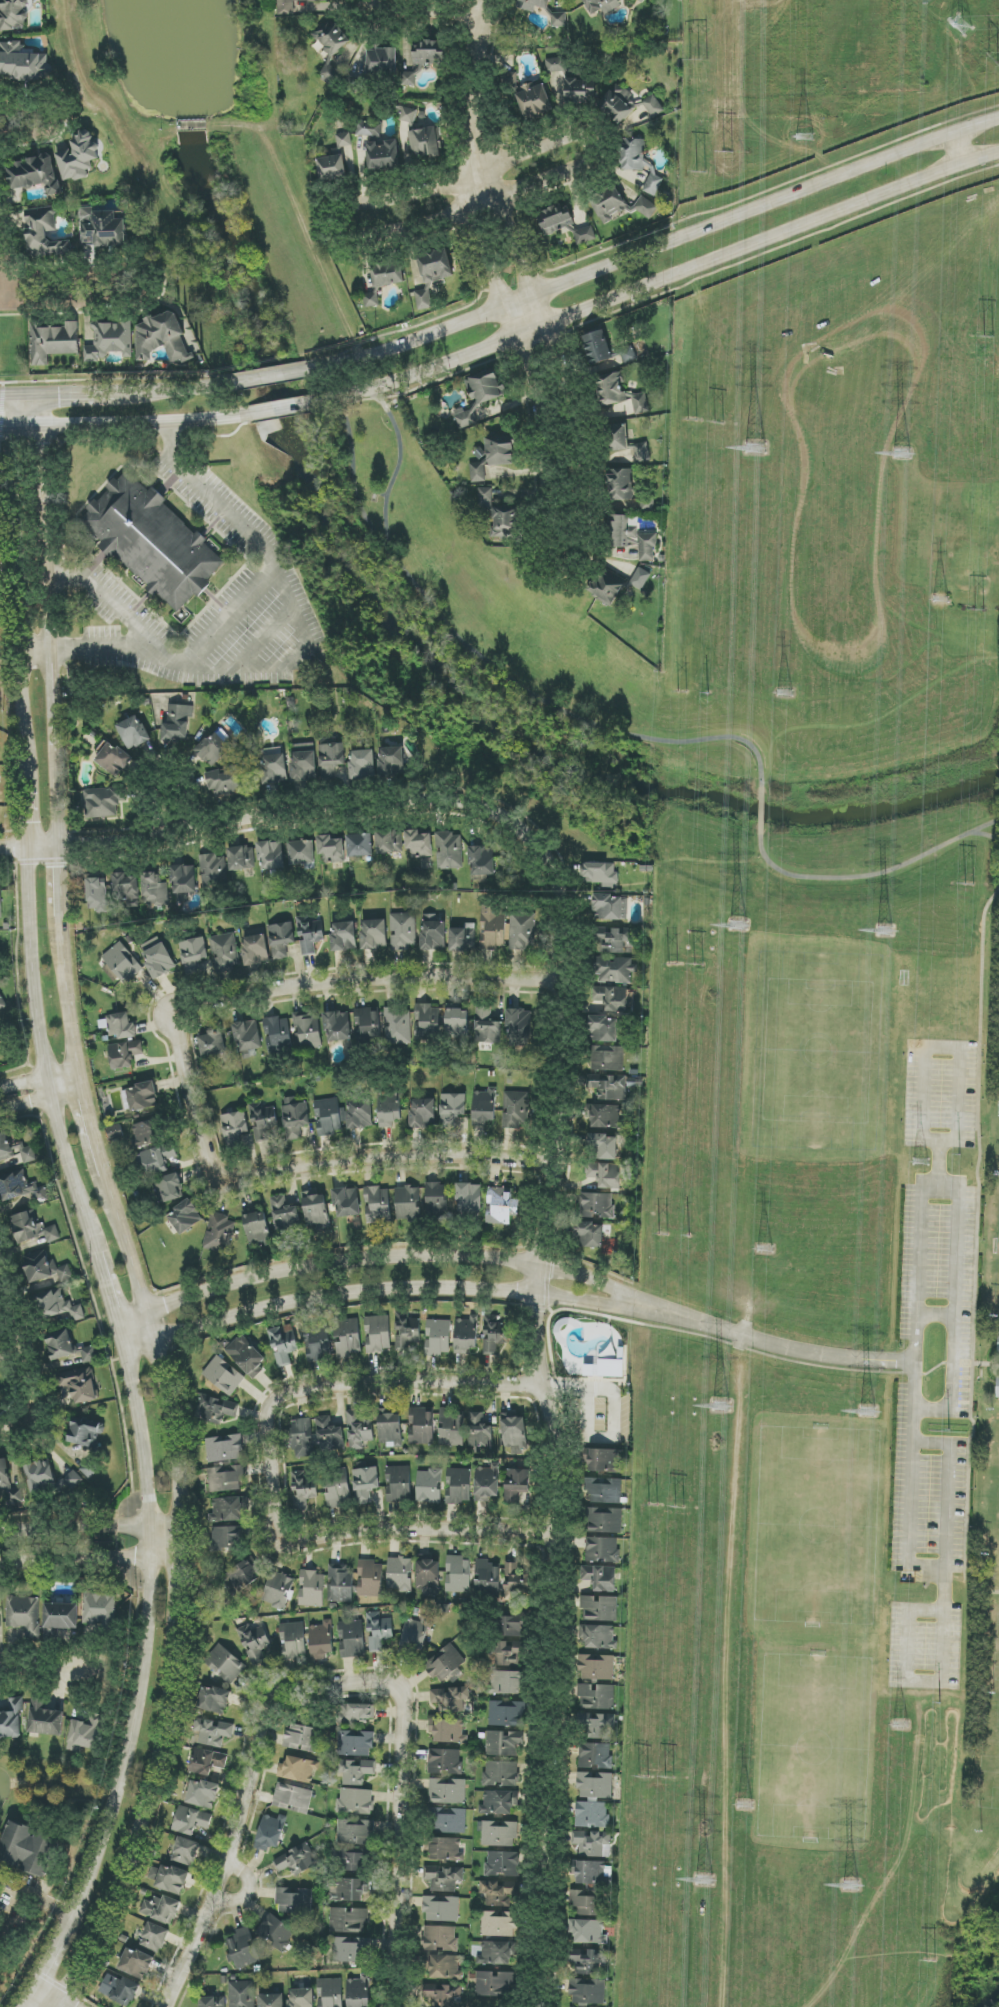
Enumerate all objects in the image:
road: (433, 0)
building: (537, 2)
building: (602, 5)
building: (287, 7)
building: (525, 7)
building: (14, 14)
building: (559, 19)
power tower: (962, 25)
building: (331, 37)
building: (427, 55)
building: (382, 60)
building: (22, 62)
power tower: (998, 63)
power tower: (699, 64)
building: (555, 65)
building: (331, 75)
building: (579, 88)
building: (534, 99)
building: (618, 104)
building: (653, 106)
building: (407, 115)
road: (38, 120)
dam: (190, 122)
building: (369, 128)
power tower: (805, 139)
building: (343, 142)
building: (424, 142)
road: (960, 147)
building: (633, 154)
building: (383, 156)
power tower: (730, 156)
building: (78, 157)
building: (332, 168)
building: (34, 174)
road: (476, 177)
power tower: (703, 177)
building: (653, 184)
building: (619, 204)
building: (555, 219)
building: (102, 228)
building: (44, 234)
building: (585, 235)
road: (655, 246)
building: (433, 274)
road: (495, 274)
building: (383, 280)
road: (666, 280)
road: (3, 286)
road: (136, 287)
road: (356, 291)
building: (162, 338)
power tower: (988, 339)
building: (109, 341)
building: (53, 342)
building: (597, 347)
building: (628, 355)
road: (553, 356)
road: (269, 378)
road: (173, 388)
building: (611, 389)
road: (79, 392)
road: (19, 393)
building: (639, 402)
road: (289, 408)
road: (40, 410)
road: (123, 424)
power tower: (693, 424)
power tower: (719, 428)
building: (618, 438)
building: (501, 451)
power tower: (754, 452)
building: (642, 453)
power tower: (901, 455)
building: (478, 472)
building: (621, 484)
road: (353, 492)
building: (485, 498)
building: (505, 522)
building: (633, 537)
road: (44, 539)
building: (152, 541)
road: (564, 561)
building: (616, 585)
power tower: (940, 602)
power tower: (978, 609)
road: (237, 612)
road: (98, 647)
road: (489, 668)
power tower: (684, 696)
power tower: (785, 698)
road: (50, 701)
power tower: (709, 702)
building: (177, 724)
building: (133, 732)
building: (214, 747)
building: (113, 759)
building: (331, 760)
building: (391, 761)
building: (304, 762)
building: (362, 764)
building: (275, 769)
building: (233, 782)
road: (56, 799)
building: (103, 802)
road: (169, 804)
road: (758, 811)
road: (284, 817)
road: (25, 827)
road: (979, 836)
building: (389, 842)
building: (419, 844)
building: (360, 845)
building: (331, 849)
building: (449, 851)
building: (301, 852)
building: (271, 855)
building: (241, 858)
building: (482, 860)
building: (213, 871)
building: (600, 874)
road: (871, 877)
building: (184, 880)
road: (60, 883)
power tower: (968, 887)
building: (126, 890)
building: (154, 892)
building: (97, 895)
building: (1, 901)
building: (610, 907)
building: (493, 927)
power tower: (737, 928)
building: (522, 930)
building: (403, 931)
building: (433, 933)
power tower: (885, 933)
building: (310, 934)
building: (374, 935)
building: (344, 936)
building: (281, 939)
building: (462, 940)
building: (256, 950)
building: (225, 952)
building: (193, 955)
building: (613, 956)
building: (159, 961)
building: (123, 963)
power tower: (674, 964)
power tower: (698, 965)
road: (979, 974)
road: (274, 998)
building: (612, 998)
road: (65, 1001)
building: (2, 1003)
building: (427, 1021)
building: (367, 1023)
building: (457, 1024)
building: (338, 1026)
building: (398, 1026)
building: (120, 1027)
building: (519, 1027)
building: (486, 1029)
building: (605, 1029)
building: (308, 1030)
building: (278, 1035)
building: (248, 1038)
building: (213, 1043)
building: (125, 1054)
building: (608, 1059)
road: (38, 1086)
building: (611, 1088)
building: (143, 1096)
building: (485, 1107)
building: (389, 1109)
building: (452, 1109)
building: (516, 1110)
building: (360, 1113)
building: (423, 1114)
building: (328, 1116)
building: (606, 1116)
building: (295, 1118)
building: (263, 1121)
building: (237, 1129)
road: (92, 1130)
building: (115, 1132)
building: (149, 1132)
building: (5, 1146)
building: (605, 1147)
building: (28, 1154)
power tower: (959, 1154)
road: (399, 1157)
building: (158, 1160)
power tower: (921, 1162)
building: (605, 1174)
building: (171, 1187)
building: (21, 1188)
building: (469, 1198)
building: (437, 1199)
building: (347, 1203)
building: (407, 1204)
building: (377, 1205)
building: (597, 1206)
building: (501, 1207)
building: (316, 1210)
building: (285, 1214)
building: (185, 1217)
building: (257, 1228)
building: (33, 1229)
building: (219, 1234)
building: (591, 1234)
power tower: (664, 1234)
park: (762, 1234)
power tower: (688, 1237)
power tower: (764, 1251)
road: (382, 1261)
building: (38, 1266)
building: (65, 1273)
road: (108, 1285)
road: (382, 1294)
building: (60, 1305)
road: (954, 1306)
road: (932, 1314)
road: (10, 1319)
road: (910, 1320)
building: (406, 1330)
road: (121, 1331)
building: (377, 1334)
building: (495, 1334)
building: (466, 1335)
building: (347, 1337)
building: (438, 1337)
building: (317, 1344)
building: (60, 1345)
building: (283, 1346)
building: (998, 1346)
road: (774, 1347)
road: (156, 1348)
building: (89, 1354)
building: (246, 1356)
parking lot: (930, 1365)
building: (605, 1369)
building: (223, 1376)
building: (80, 1384)
building: (997, 1387)
road: (341, 1388)
road: (29, 1398)
power tower: (721, 1408)
building: (215, 1409)
power tower: (868, 1414)
building: (421, 1426)
building: (390, 1428)
building: (359, 1429)
building: (451, 1429)
power tower: (950, 1430)
building: (479, 1431)
building: (86, 1433)
building: (514, 1433)
road: (555, 1434)
building: (329, 1435)
building: (303, 1438)
building: (224, 1448)
building: (604, 1460)
building: (4, 1474)
building: (40, 1475)
building: (226, 1478)
building: (72, 1480)
building: (487, 1483)
building: (365, 1484)
building: (398, 1484)
building: (516, 1484)
building: (429, 1486)
building: (458, 1486)
road: (949, 1487)
building: (337, 1489)
building: (304, 1490)
building: (603, 1490)
building: (16, 1496)
power tower: (654, 1506)
power tower: (679, 1506)
building: (227, 1509)
building: (604, 1520)
road: (92, 1525)
road: (420, 1530)
building: (226, 1539)
building: (602, 1550)
road: (91, 1561)
building: (400, 1574)
building: (458, 1574)
building: (243, 1576)
building: (428, 1577)
building: (600, 1577)
building: (370, 1579)
building: (515, 1579)
building: (340, 1583)
road: (181, 1585)
building: (312, 1588)
road: (972, 1588)
building: (279, 1590)
building: (99, 1608)
building: (600, 1609)
building: (24, 1615)
building: (60, 1618)
building: (515, 1625)
building: (379, 1631)
building: (414, 1636)
building: (598, 1637)
road: (150, 1639)
building: (352, 1639)
building: (293, 1640)
building: (322, 1640)
building: (254, 1642)
building: (507, 1653)
building: (445, 1663)
building: (225, 1664)
building: (596, 1667)
road: (39, 1673)
building: (506, 1682)
building: (595, 1697)
building: (451, 1699)
building: (214, 1700)
power tower: (941, 1705)
building: (356, 1713)
building: (507, 1713)
building: (45, 1719)
building: (12, 1720)
power tower: (898, 1726)
building: (448, 1731)
building: (213, 1732)
building: (85, 1733)
building: (303, 1738)
building: (356, 1743)
building: (504, 1743)
building: (595, 1756)
building: (208, 1762)
building: (445, 1762)
building: (298, 1769)
building: (357, 1772)
building: (501, 1774)
power tower: (645, 1776)
power tower: (669, 1778)
building: (595, 1785)
building: (447, 1791)
building: (203, 1794)
building: (293, 1798)
building: (355, 1801)
building: (499, 1802)
power tower: (743, 1806)
road: (403, 1808)
building: (592, 1815)
building: (191, 1820)
building: (450, 1821)
road: (240, 1827)
road: (138, 1832)
building: (271, 1832)
building: (499, 1833)
building: (355, 1843)
building: (593, 1843)
building: (27, 1848)
building: (446, 1849)
building: (185, 1851)
building: (298, 1859)
building: (503, 1864)
building: (443, 1878)
building: (170, 1879)
power tower: (703, 1882)
power tower: (850, 1886)
building: (597, 1887)
building: (348, 1889)
road: (35, 1891)
building: (294, 1901)
building: (161, 1909)
building: (441, 1909)
building: (484, 1909)
building: (348, 1920)
building: (588, 1931)
building: (276, 1933)
building: (155, 1937)
building: (441, 1938)
building: (242, 1948)
building: (351, 1950)
building: (495, 1953)
building: (136, 1963)
power tower: (930, 1963)
building: (443, 1967)
road: (52, 1968)
building: (587, 1977)
building: (495, 1984)
building: (123, 1991)
building: (358, 1992)
building: (330, 1993)
building: (241, 1994)
building: (444, 1994)
building: (301, 1998)
building: (271, 2000)
building: (212, 2002)

